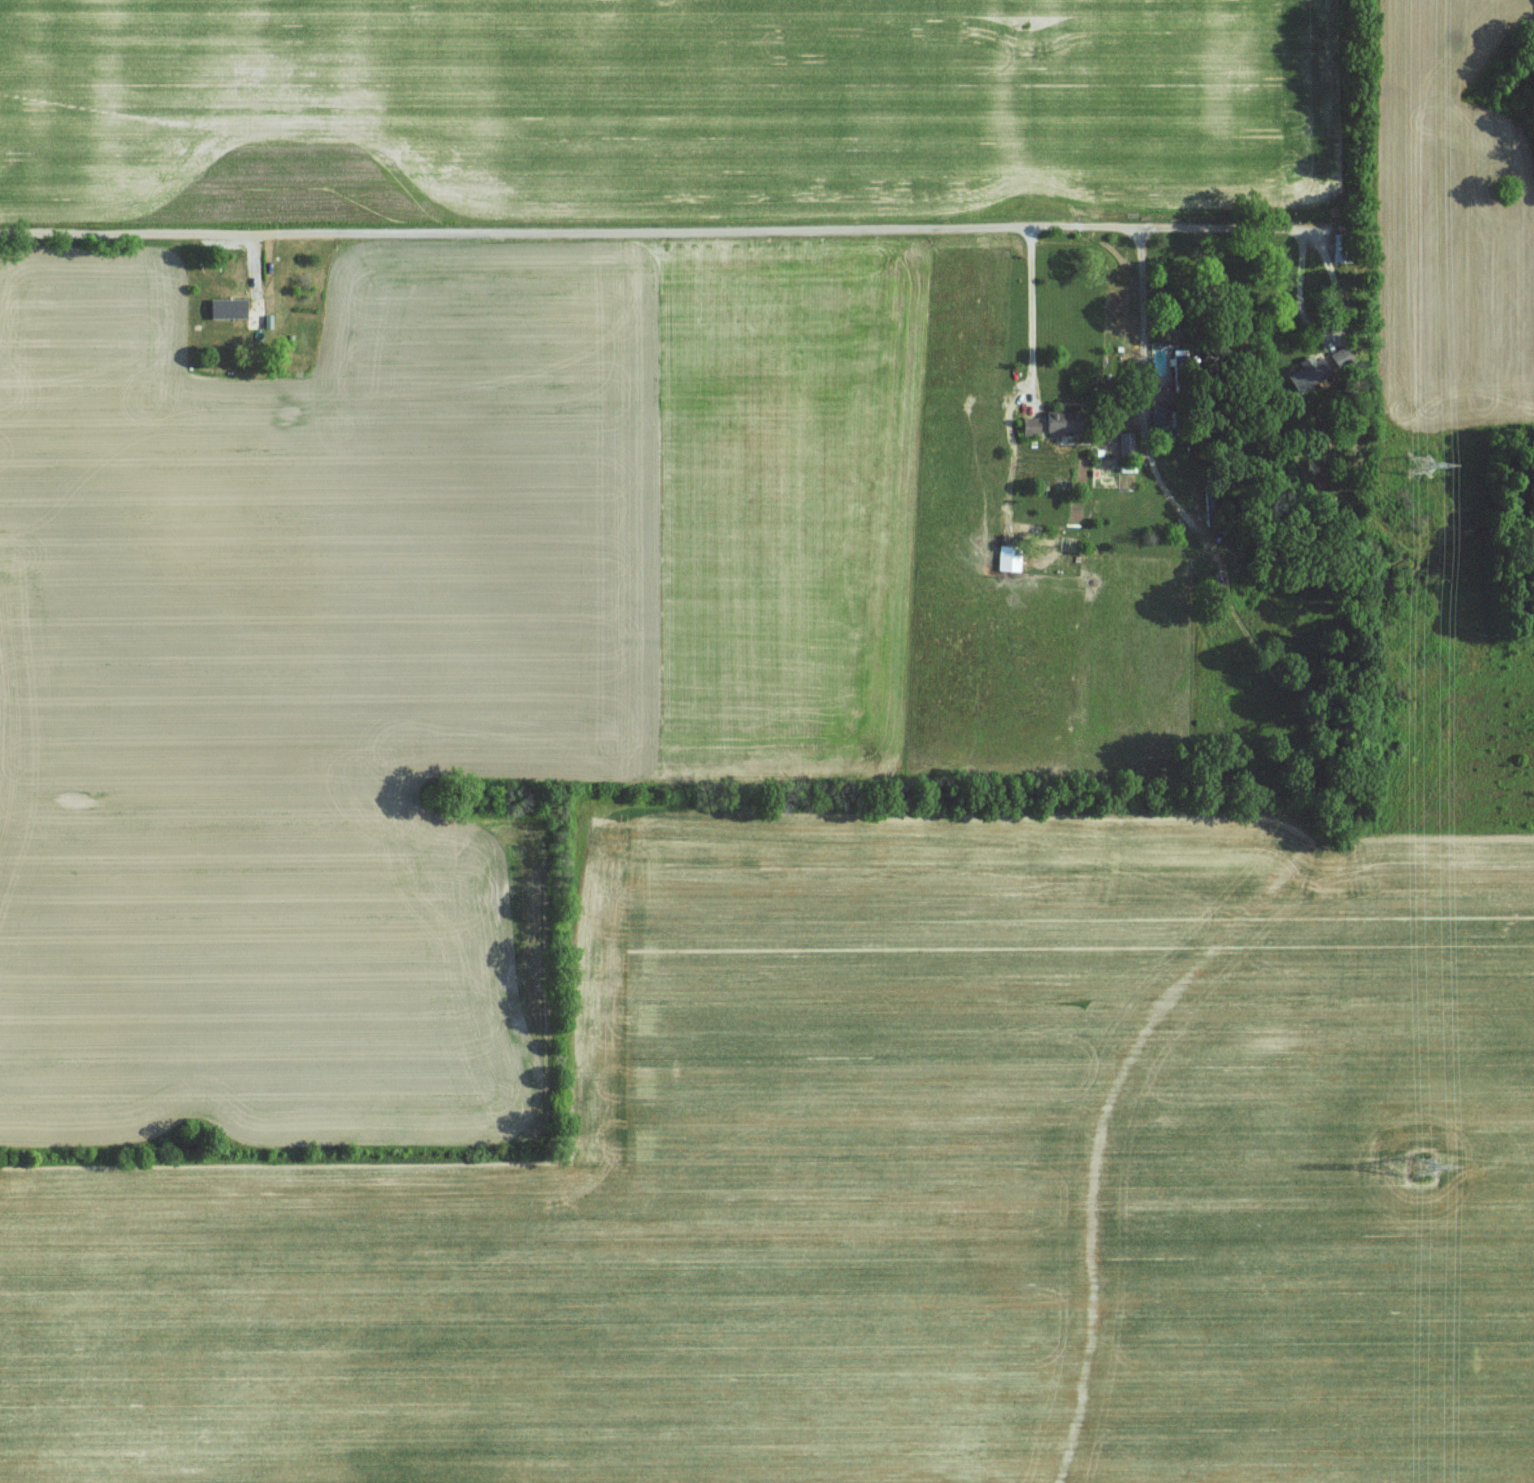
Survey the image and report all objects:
road: (566, 228)
road: (1284, 229)
road: (1144, 305)
building: (226, 307)
road: (1033, 307)
building: (1305, 373)
building: (1156, 414)
building: (1060, 422)
building: (1029, 425)
building: (1124, 441)
power tower: (1419, 464)
building: (1008, 558)
power tower: (1420, 1167)

